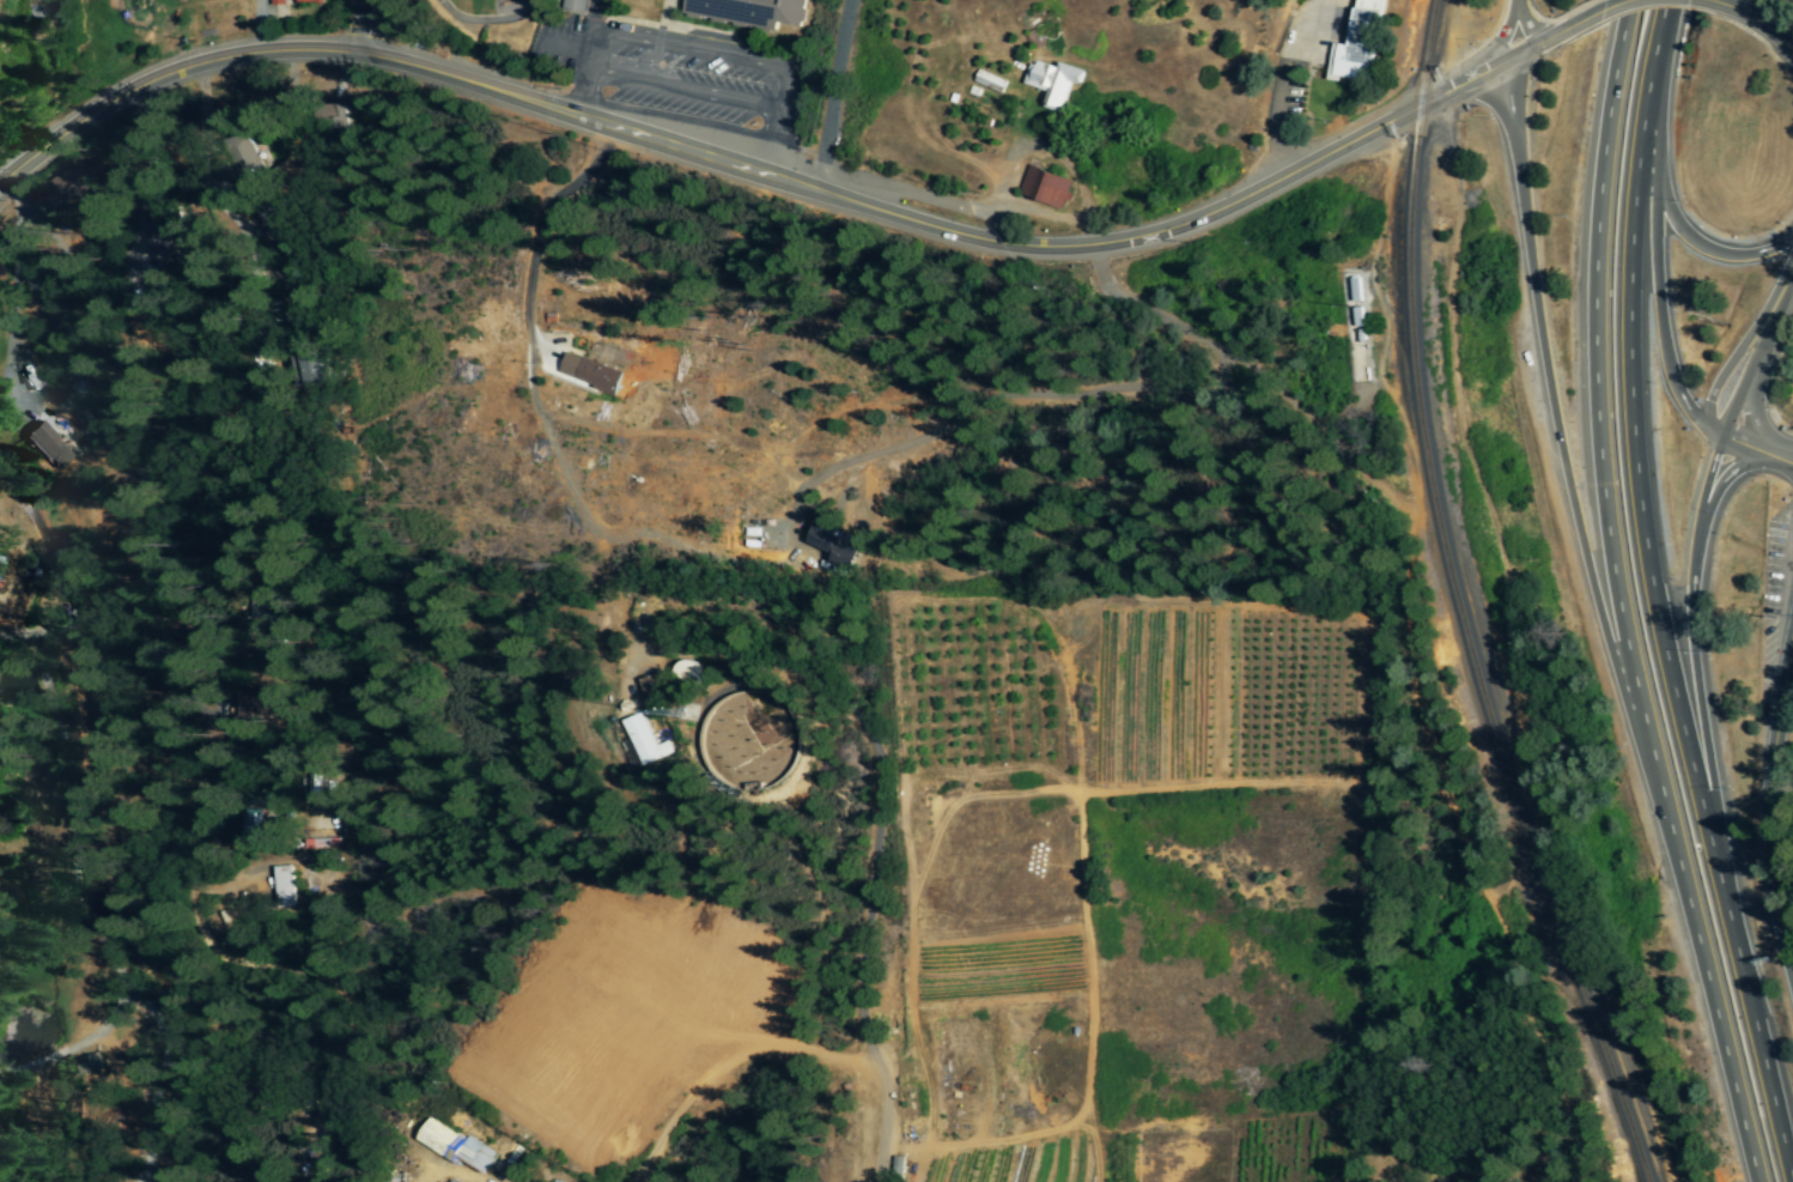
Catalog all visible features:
building: (306, 1)
road: (1709, 1)
building: (275, 2)
building: (573, 6)
building: (748, 12)
road: (1601, 12)
road: (1759, 24)
road: (352, 26)
road: (1525, 26)
road: (1501, 36)
building: (1359, 43)
road: (699, 47)
road: (1282, 75)
building: (989, 81)
building: (1052, 83)
road: (683, 92)
road: (831, 95)
building: (244, 156)
road: (783, 181)
building: (71, 183)
building: (1044, 187)
road: (281, 235)
road: (1680, 236)
road: (1776, 297)
road: (1657, 307)
road: (11, 311)
building: (1356, 317)
building: (310, 368)
building: (588, 372)
road: (1721, 372)
road: (503, 378)
road: (1544, 381)
road: (1742, 383)
road: (1080, 393)
road: (1752, 418)
building: (47, 447)
road: (1744, 447)
road: (1718, 485)
building: (833, 546)
parking lot: (1773, 584)
road: (1616, 596)
road: (1649, 596)
road: (110, 602)
railway: (1459, 602)
building: (265, 605)
road: (67, 625)
road: (28, 631)
road: (1690, 640)
building: (649, 685)
road: (164, 696)
building: (643, 740)
water tower: (750, 746)
road: (1764, 800)
building: (248, 830)
building: (321, 843)
road: (875, 884)
building: (282, 886)
road: (89, 909)
road: (77, 1043)
building: (90, 1062)
road: (734, 1097)
building: (452, 1146)
road: (794, 1163)
road: (138, 1181)
road: (139, 1181)
building: (450, 1181)

